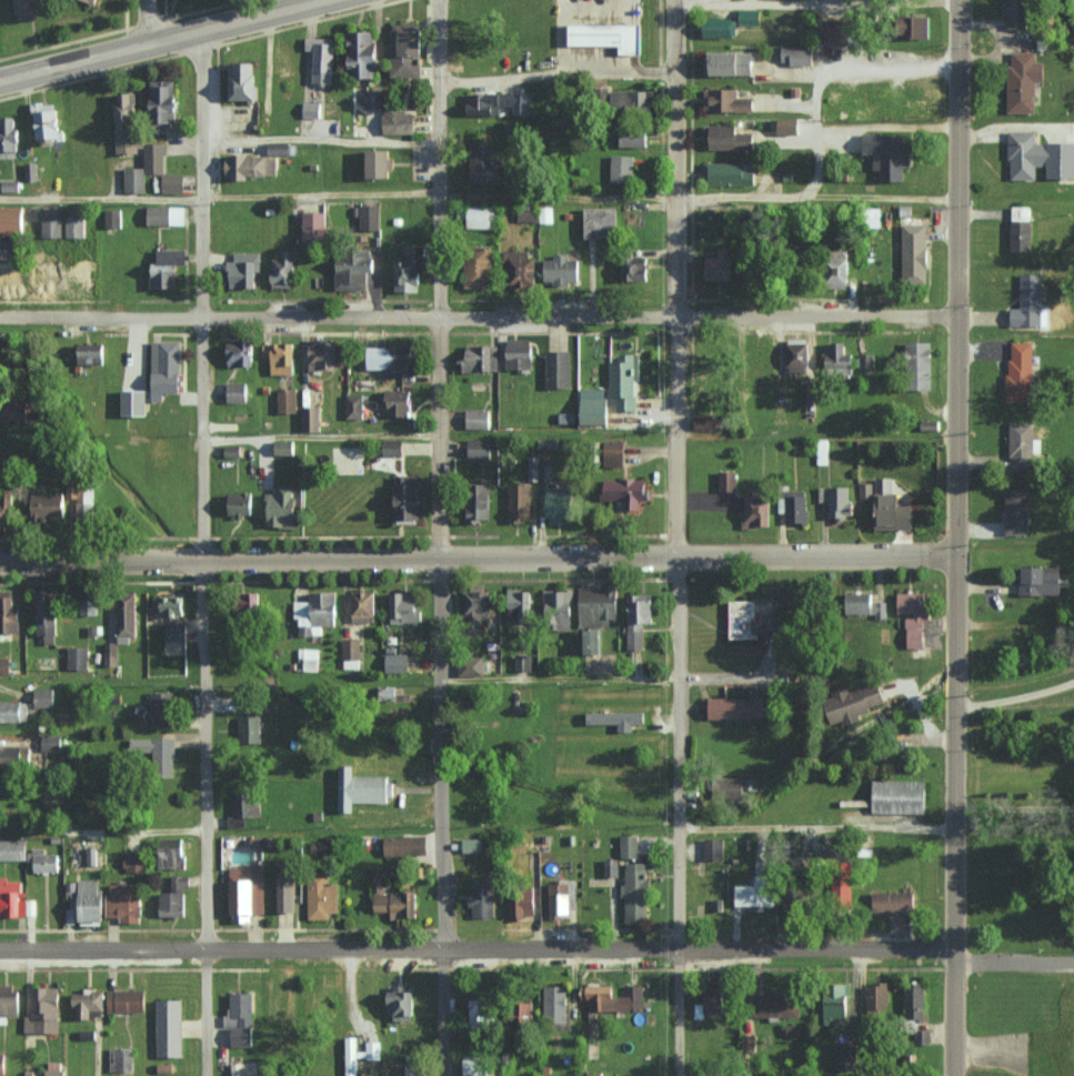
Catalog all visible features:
building: (92, 1)
building: (27, 9)
road: (612, 16)
building: (1017, 16)
building: (750, 17)
road: (144, 19)
building: (719, 27)
building: (923, 27)
building: (836, 31)
road: (151, 36)
road: (632, 36)
road: (561, 37)
building: (608, 37)
road: (600, 41)
road: (574, 42)
road: (586, 42)
building: (406, 49)
building: (364, 54)
building: (797, 54)
building: (322, 59)
building: (732, 63)
road: (555, 74)
building: (243, 81)
building: (1024, 81)
building: (632, 100)
building: (727, 101)
building: (163, 102)
building: (499, 102)
building: (906, 103)
building: (311, 109)
building: (392, 113)
building: (47, 122)
building: (128, 122)
building: (1072, 130)
building: (9, 135)
building: (634, 137)
building: (730, 138)
building: (279, 149)
building: (890, 154)
building: (1038, 157)
building: (154, 158)
building: (381, 164)
building: (486, 165)
building: (251, 167)
building: (622, 168)
building: (31, 172)
building: (134, 180)
building: (173, 183)
building: (10, 185)
road: (219, 200)
road: (555, 200)
building: (167, 215)
building: (369, 217)
building: (482, 217)
building: (113, 218)
building: (13, 221)
building: (602, 222)
building: (76, 227)
building: (315, 227)
building: (53, 228)
building: (1022, 229)
building: (9, 250)
building: (914, 253)
building: (722, 265)
building: (479, 267)
building: (167, 268)
building: (354, 269)
building: (636, 269)
building: (283, 270)
building: (410, 270)
building: (520, 270)
building: (561, 270)
building: (242, 271)
building: (47, 273)
building: (83, 274)
building: (10, 275)
road: (955, 278)
road: (439, 279)
road: (673, 279)
road: (198, 291)
building: (1031, 303)
road: (476, 315)
building: (240, 352)
building: (91, 354)
building: (322, 354)
building: (520, 354)
building: (797, 355)
building: (280, 358)
building: (395, 359)
building: (481, 359)
building: (837, 360)
building: (865, 363)
building: (921, 365)
building: (165, 369)
building: (559, 370)
building: (1022, 372)
building: (623, 382)
building: (238, 392)
building: (287, 401)
building: (134, 403)
building: (399, 403)
building: (354, 406)
building: (593, 406)
building: (17, 413)
building: (311, 419)
building: (478, 419)
building: (706, 421)
building: (1022, 440)
building: (283, 448)
building: (394, 448)
building: (479, 449)
building: (616, 451)
building: (823, 452)
building: (160, 453)
building: (536, 472)
building: (727, 481)
building: (76, 490)
building: (628, 492)
building: (409, 500)
building: (837, 501)
building: (520, 502)
building: (480, 503)
building: (239, 504)
building: (560, 504)
building: (49, 506)
building: (281, 507)
building: (892, 507)
building: (799, 509)
building: (4, 512)
building: (757, 512)
building: (1017, 512)
road: (476, 559)
building: (1043, 580)
building: (559, 599)
building: (251, 600)
building: (170, 604)
building: (520, 604)
building: (599, 604)
building: (362, 605)
building: (404, 605)
building: (866, 605)
building: (478, 609)
building: (317, 612)
building: (9, 613)
building: (127, 614)
building: (48, 615)
building: (914, 615)
building: (639, 617)
building: (754, 621)
building: (177, 630)
building: (592, 640)
building: (111, 653)
building: (351, 653)
building: (78, 656)
building: (307, 658)
building: (398, 662)
building: (523, 662)
building: (4, 665)
building: (471, 665)
building: (44, 697)
road: (1014, 697)
building: (853, 702)
building: (739, 707)
building: (162, 708)
building: (13, 711)
building: (616, 718)
building: (250, 728)
building: (51, 742)
building: (153, 748)
building: (11, 757)
building: (737, 787)
building: (362, 788)
building: (900, 796)
road: (1014, 797)
building: (244, 808)
road: (955, 815)
road: (440, 816)
road: (202, 817)
road: (676, 817)
building: (472, 844)
building: (403, 845)
building: (630, 846)
building: (713, 847)
building: (12, 849)
building: (169, 849)
building: (836, 852)
building: (42, 861)
building: (133, 861)
building: (242, 892)
building: (636, 892)
building: (757, 892)
building: (284, 893)
building: (322, 896)
building: (174, 897)
building: (390, 897)
building: (559, 897)
building: (11, 898)
building: (483, 899)
building: (126, 902)
building: (894, 902)
building: (92, 903)
building: (522, 903)
road: (538, 949)
building: (879, 996)
building: (613, 997)
building: (127, 1000)
building: (914, 1002)
building: (10, 1003)
building: (89, 1003)
building: (400, 1003)
building: (556, 1004)
building: (710, 1004)
building: (836, 1004)
building: (777, 1005)
building: (240, 1008)
building: (44, 1010)
building: (480, 1014)
building: (169, 1027)
building: (243, 1035)
building: (360, 1054)
building: (845, 1055)
building: (121, 1058)
building: (2, 1063)
building: (478, 1066)
building: (54, 1068)

